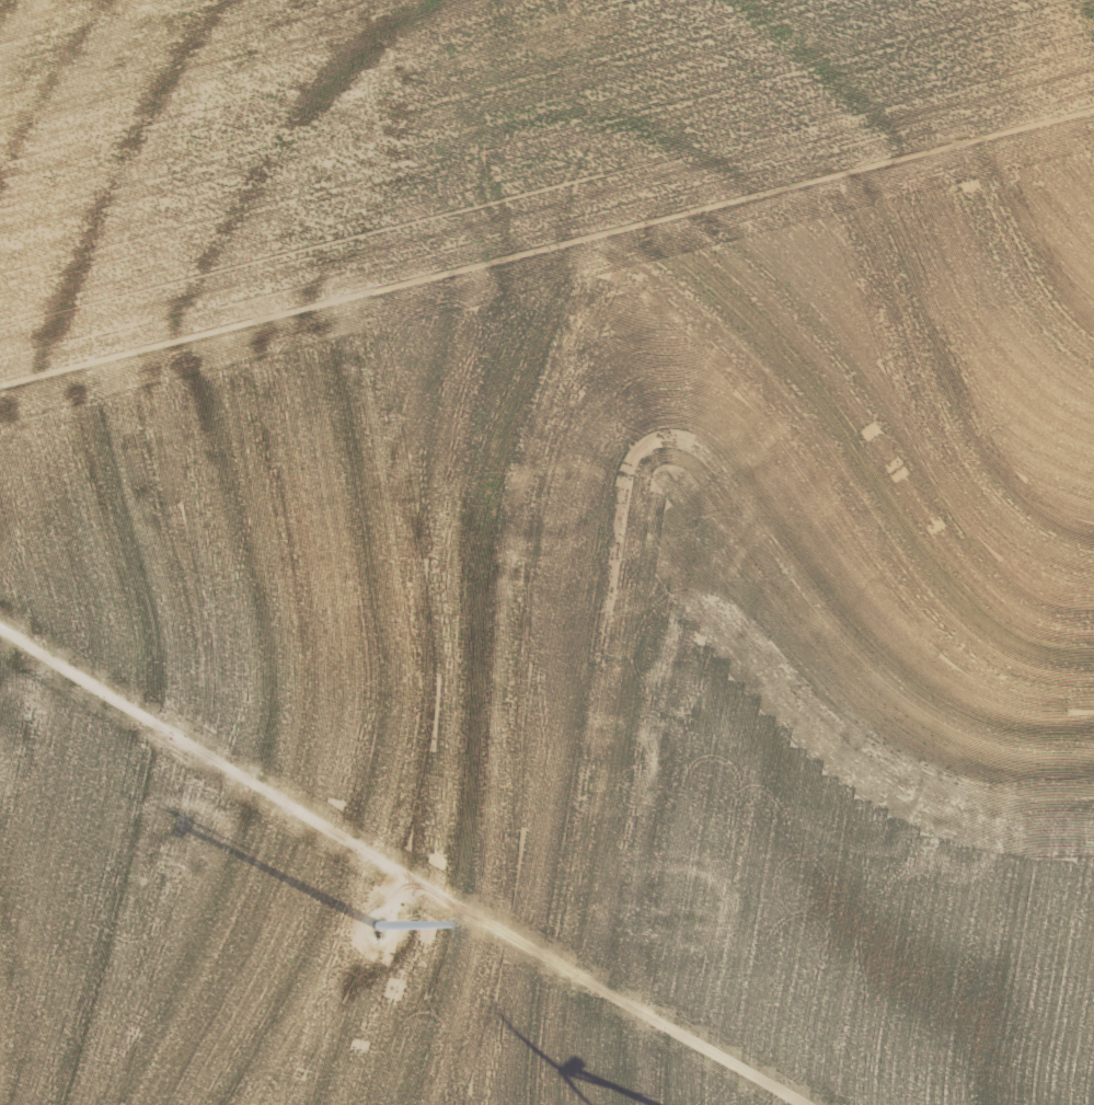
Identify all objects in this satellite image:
road: (402, 871)
wind turbine: (369, 924)

